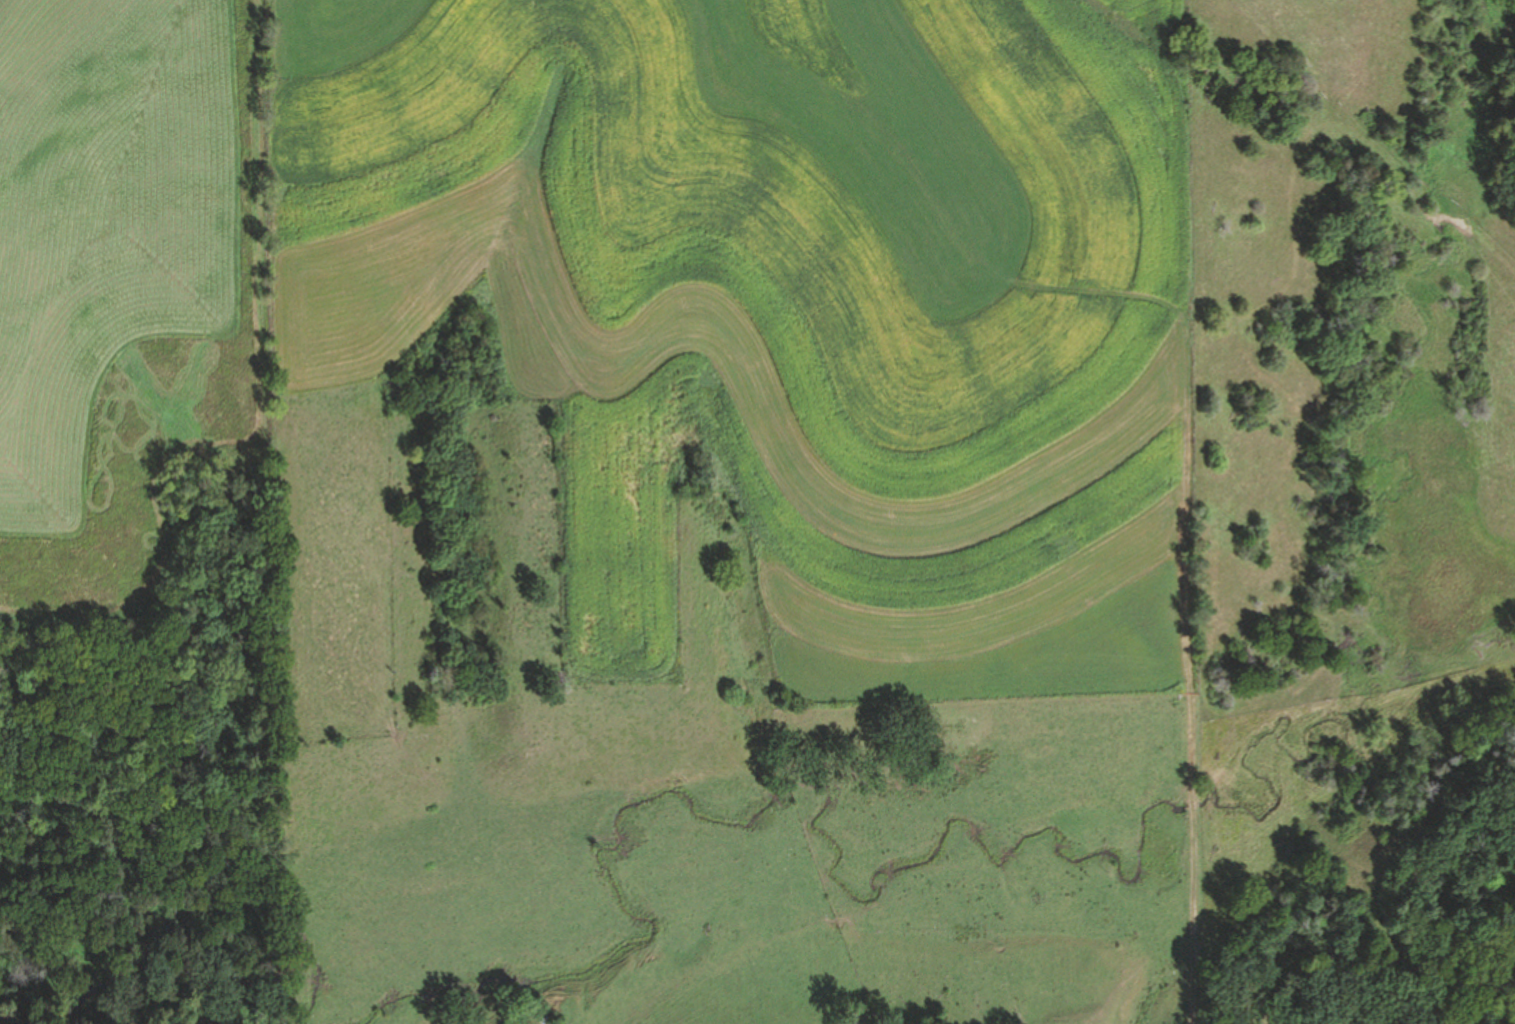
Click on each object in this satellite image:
road: (1199, 784)

